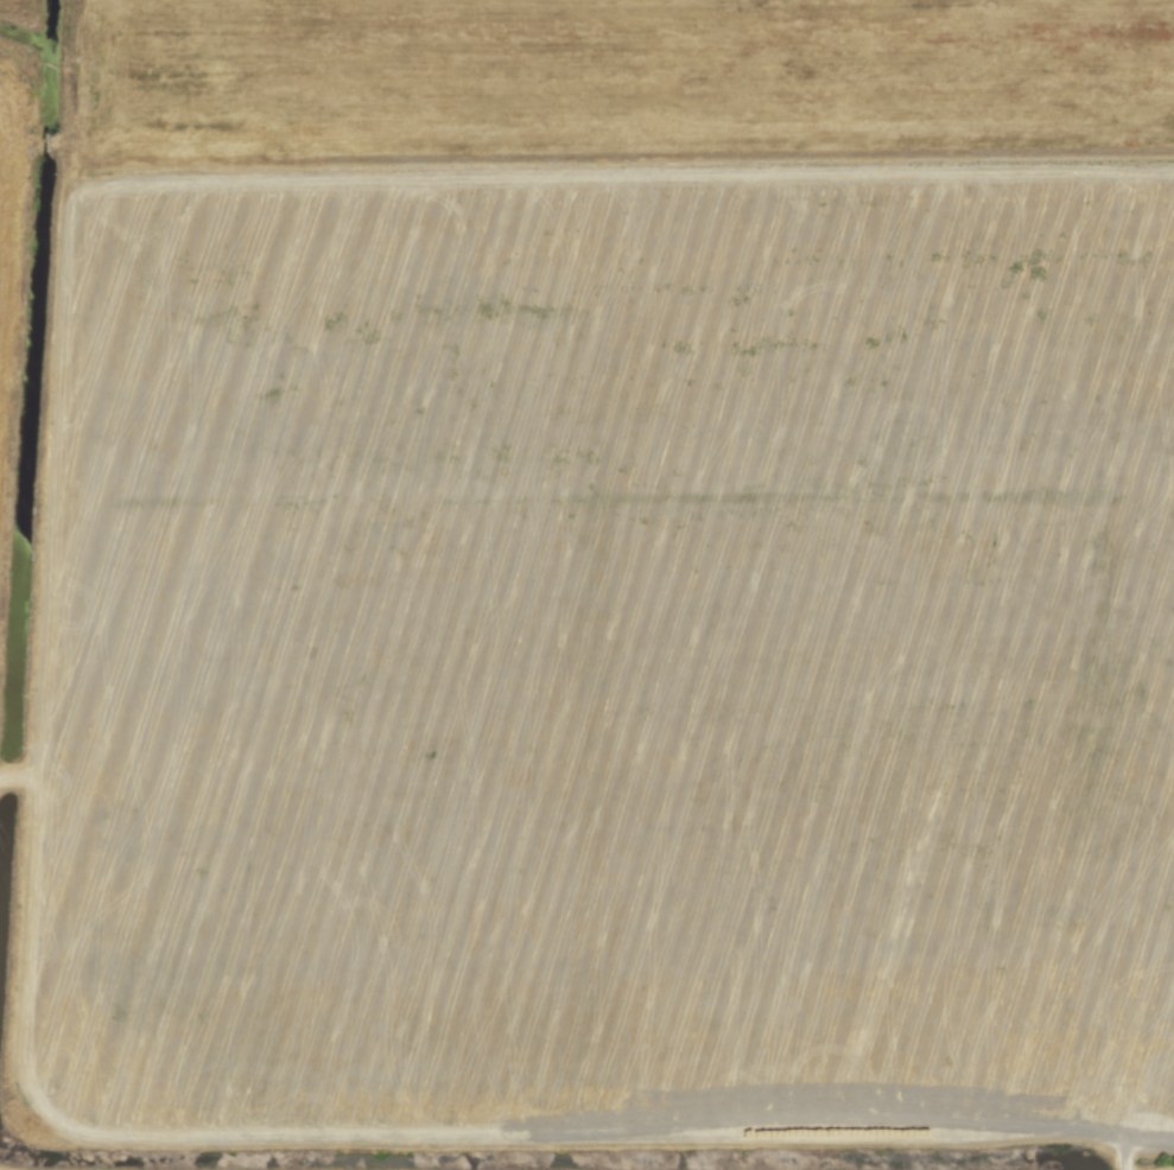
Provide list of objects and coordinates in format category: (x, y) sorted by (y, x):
crop: (18, 284)

